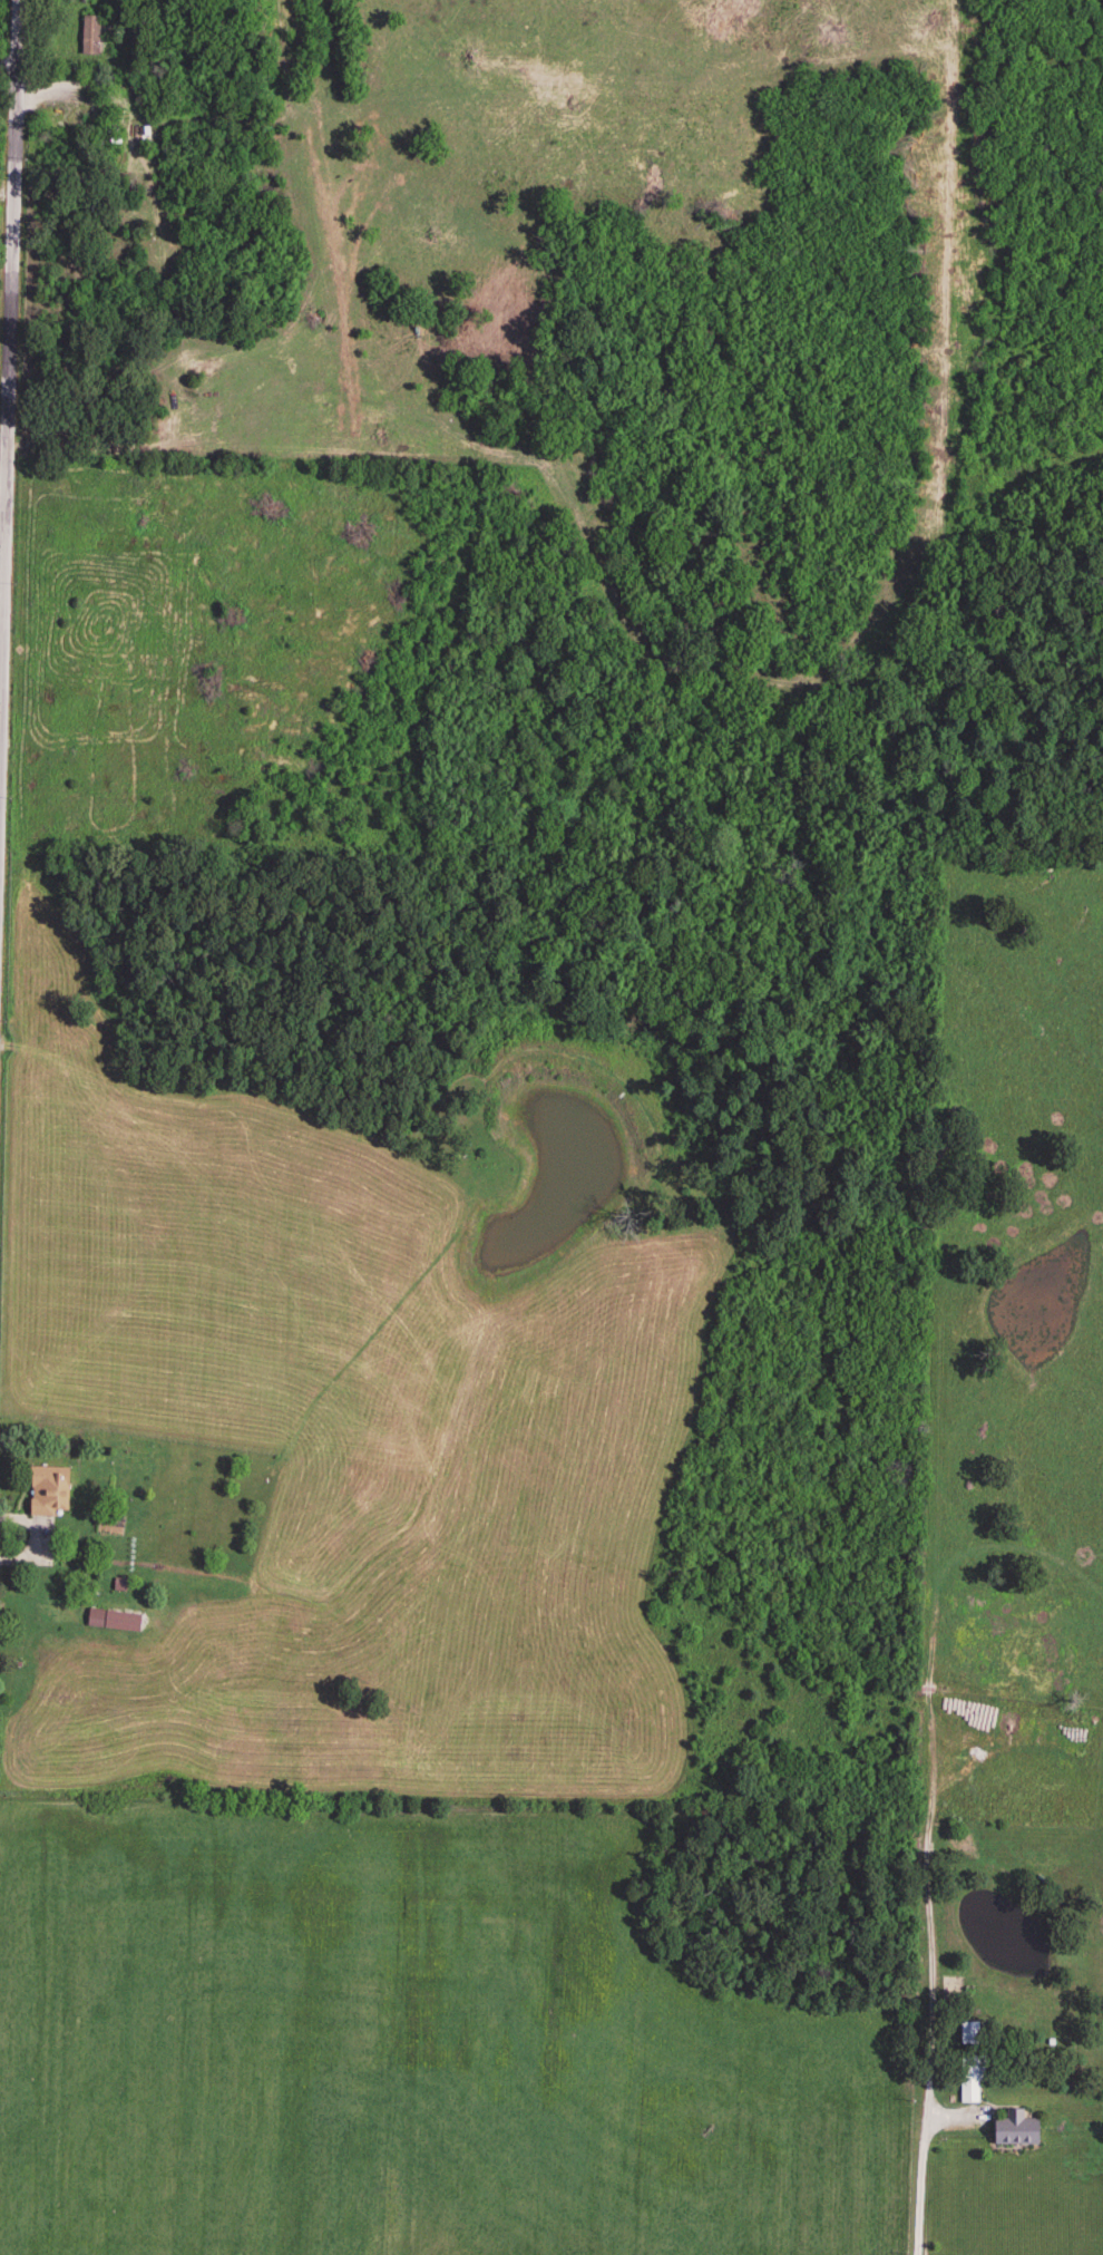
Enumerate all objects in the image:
road: (12, 52)
road: (10, 449)
building: (46, 1491)
building: (88, 1614)
building: (950, 1990)
building: (967, 2034)
building: (968, 2081)
building: (1013, 2131)
road: (920, 2166)

